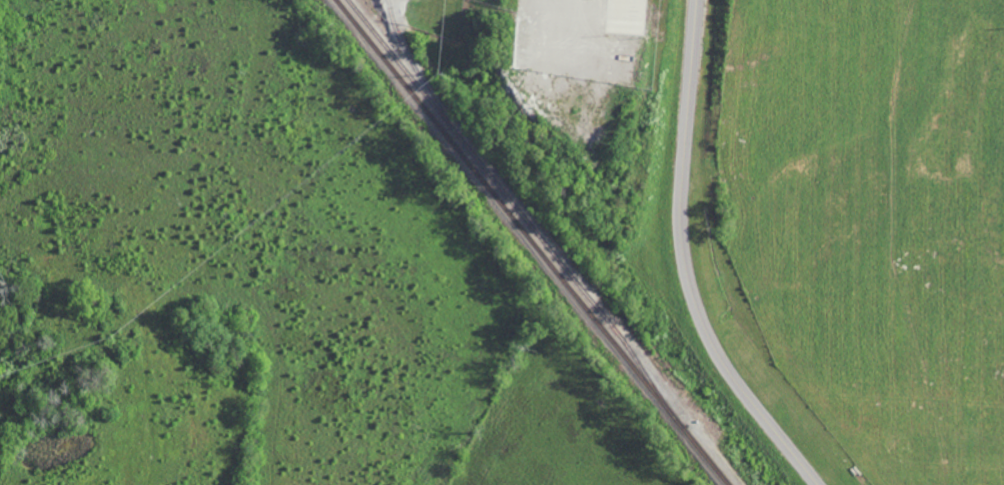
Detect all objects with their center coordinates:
road: (570, 45)
railway: (411, 64)
railway: (510, 199)
railway: (533, 242)
road: (688, 262)

